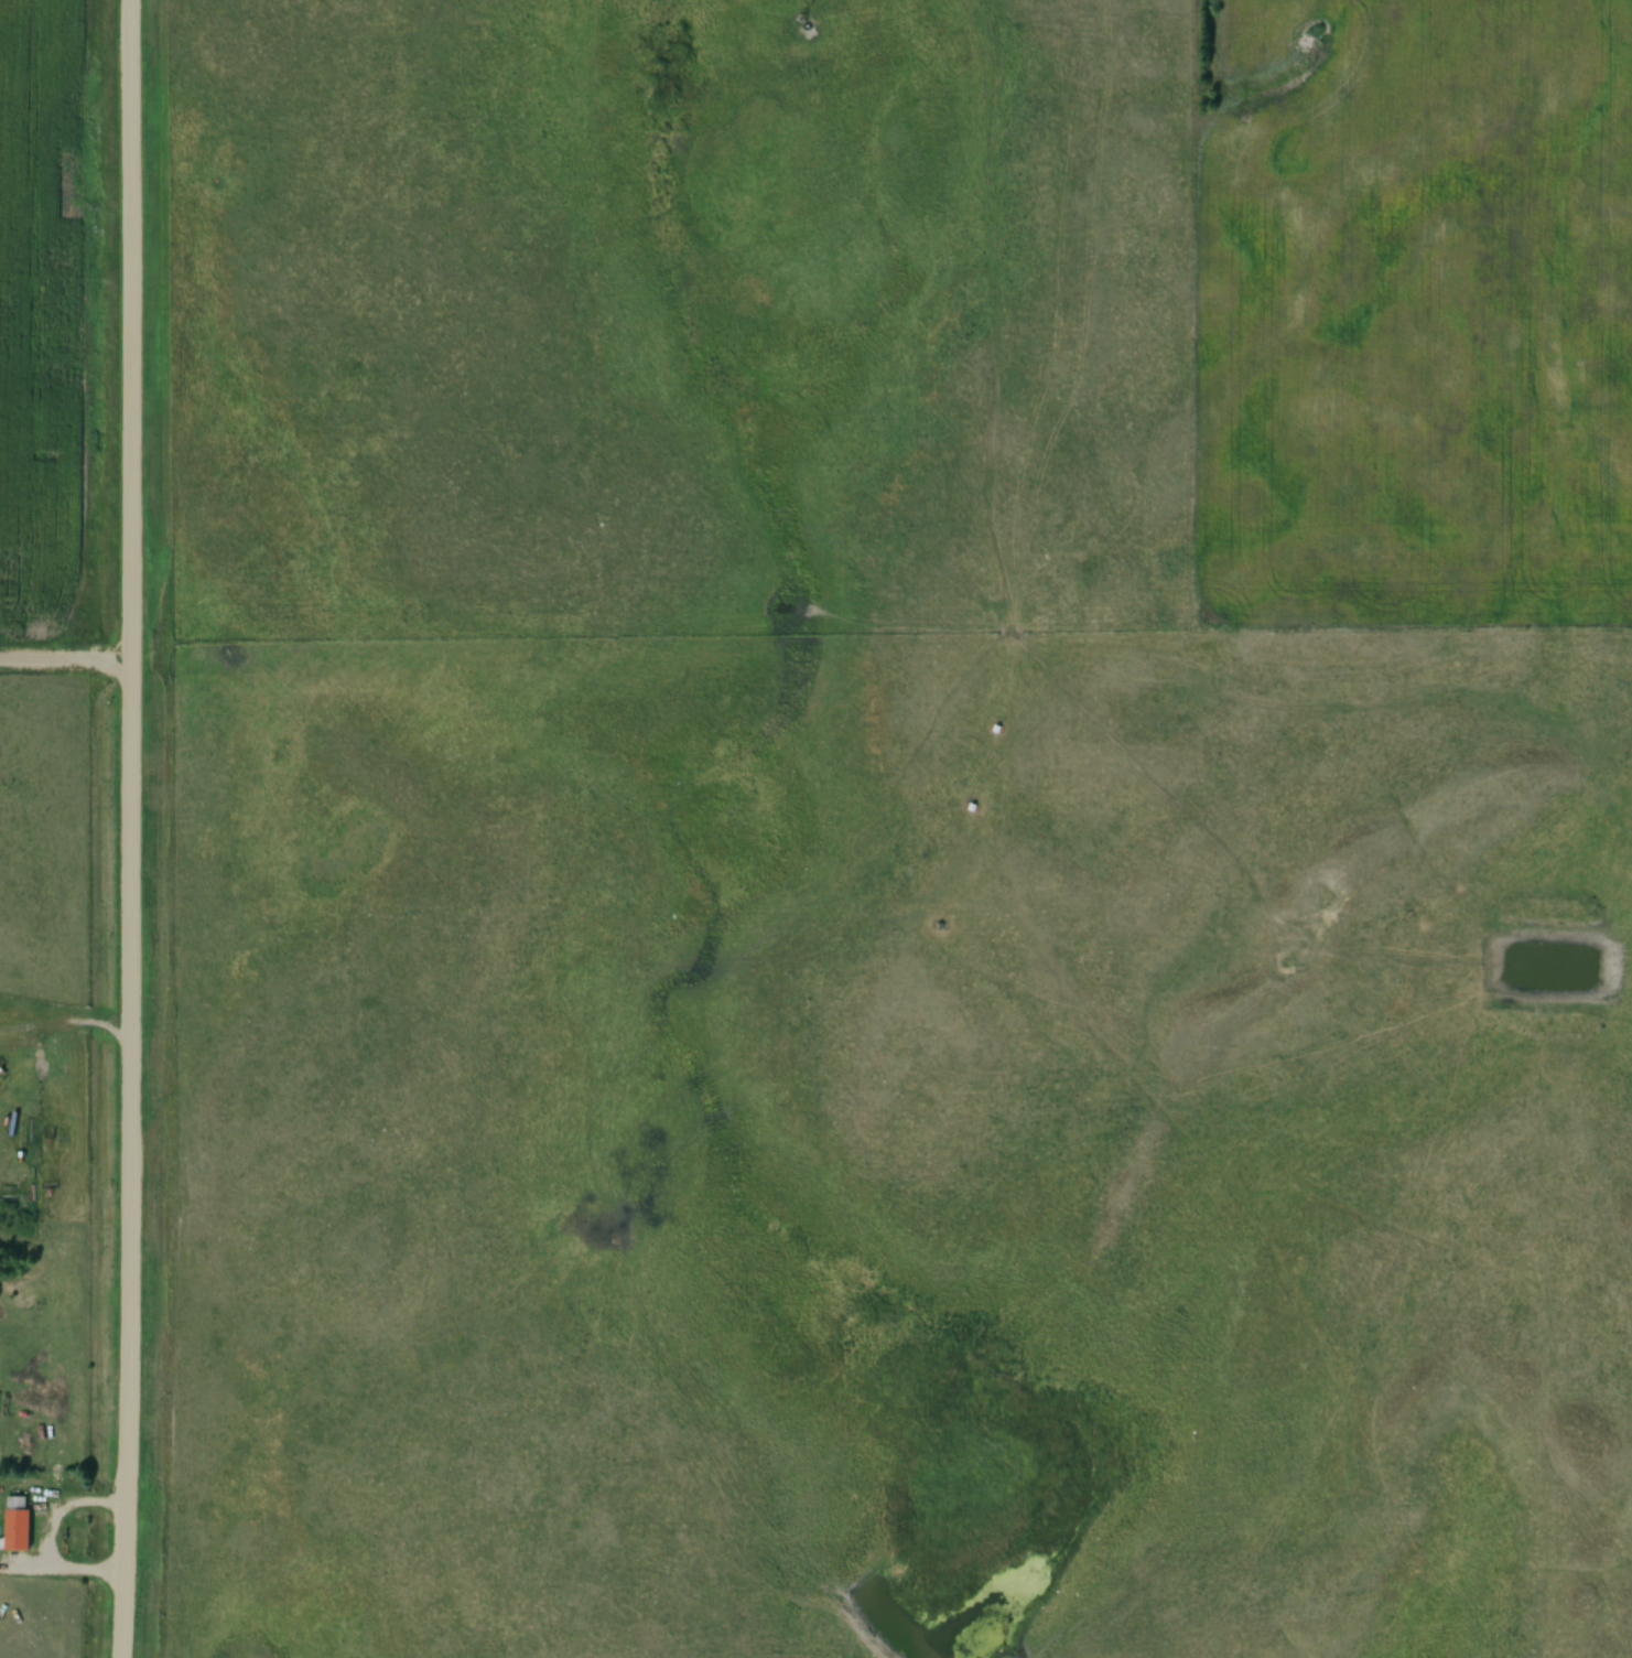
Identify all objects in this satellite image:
road: (67, 665)
road: (133, 829)
road: (65, 1505)
building: (17, 1524)
road: (64, 1567)

